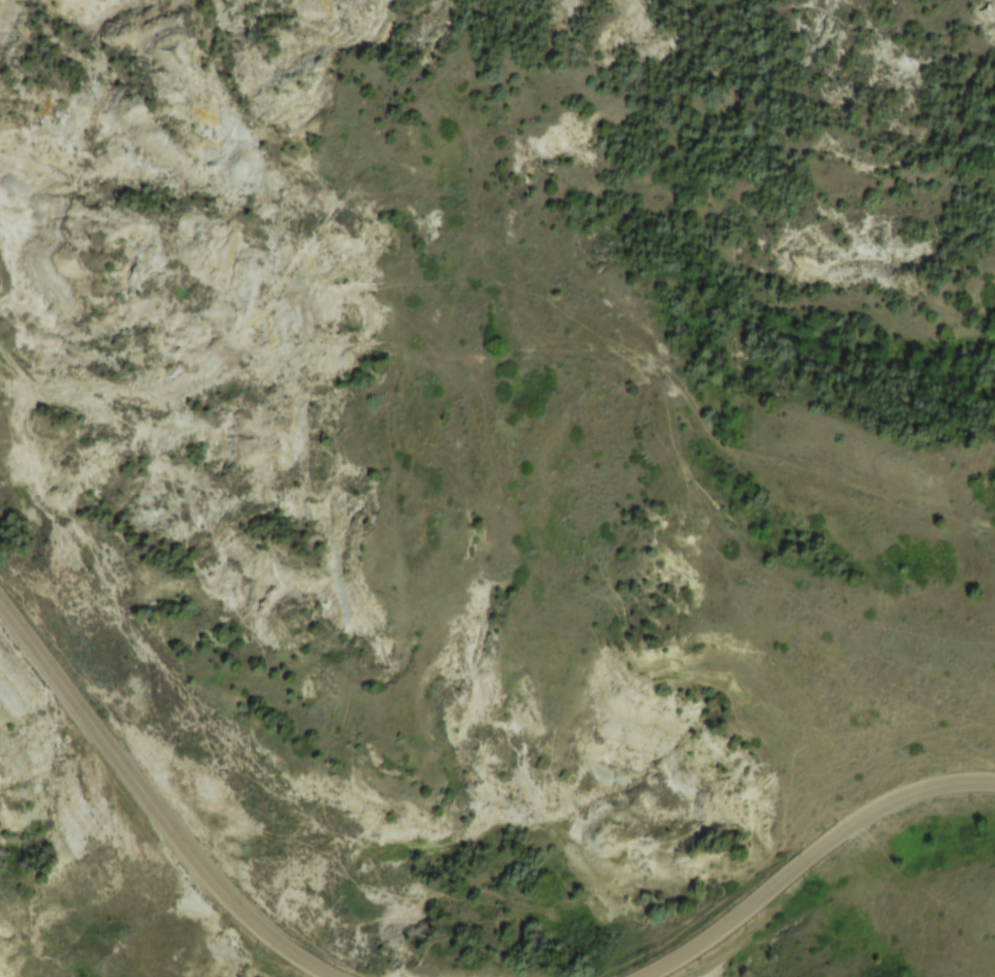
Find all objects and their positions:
road: (153, 808)
road: (811, 855)

